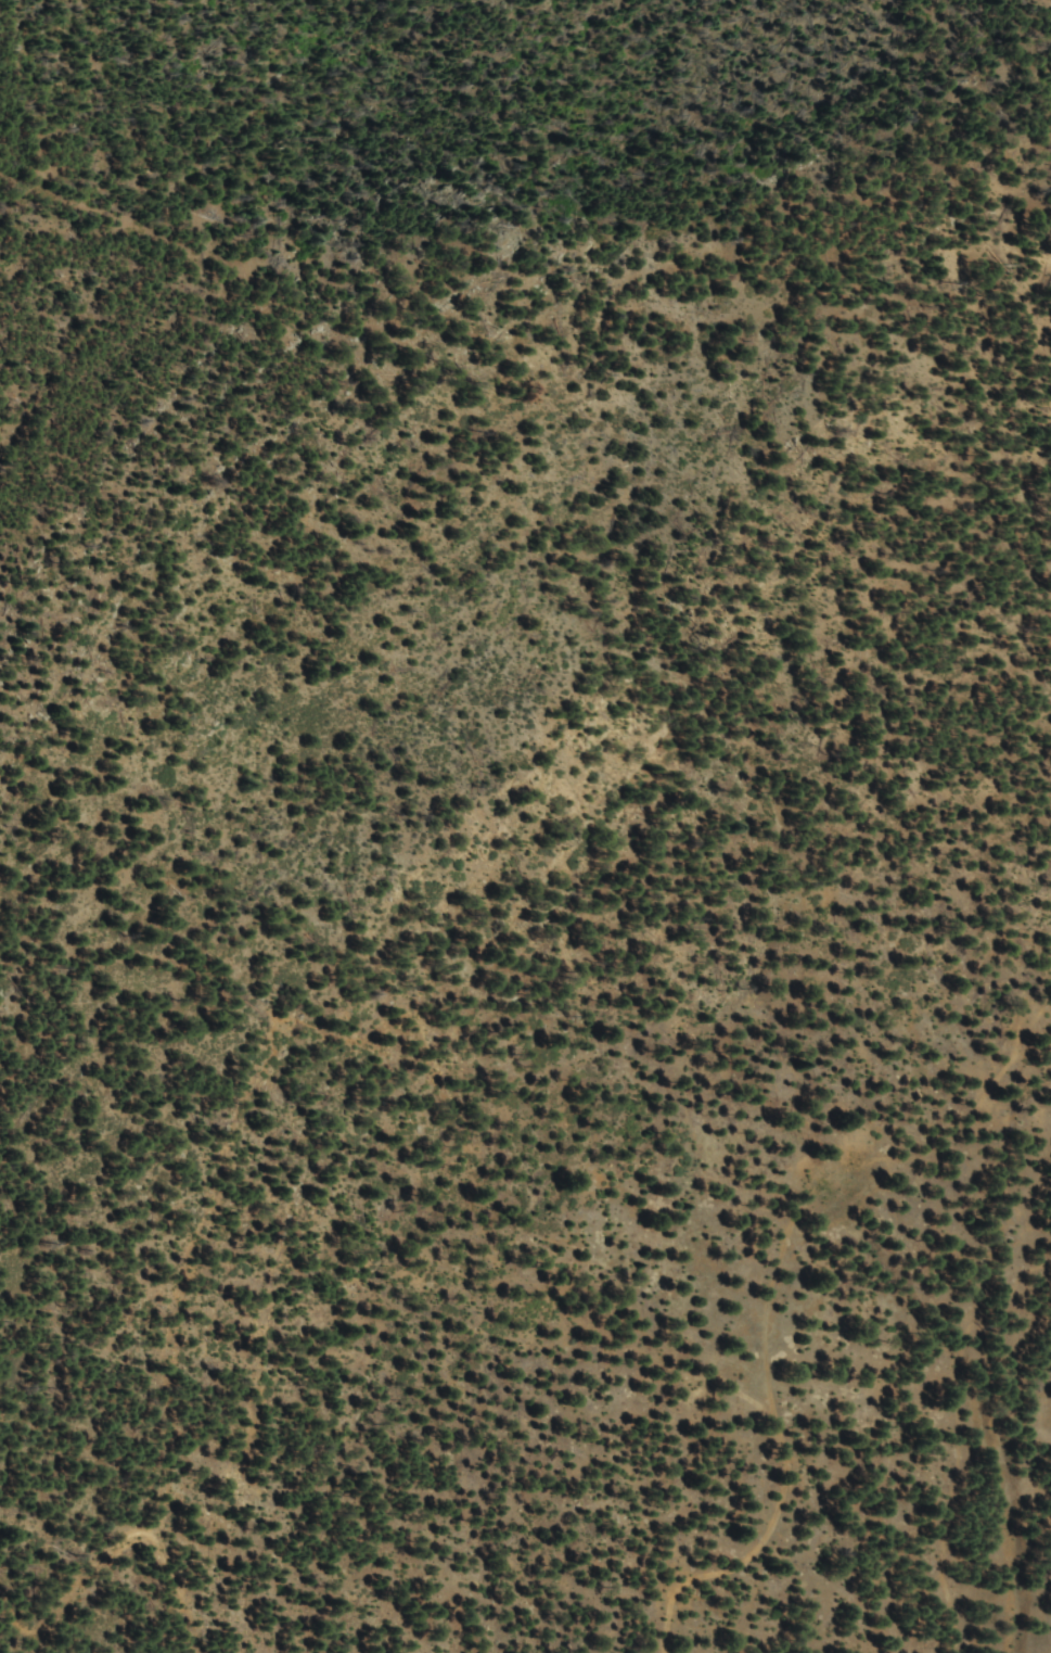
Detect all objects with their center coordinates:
road: (889, 1524)

